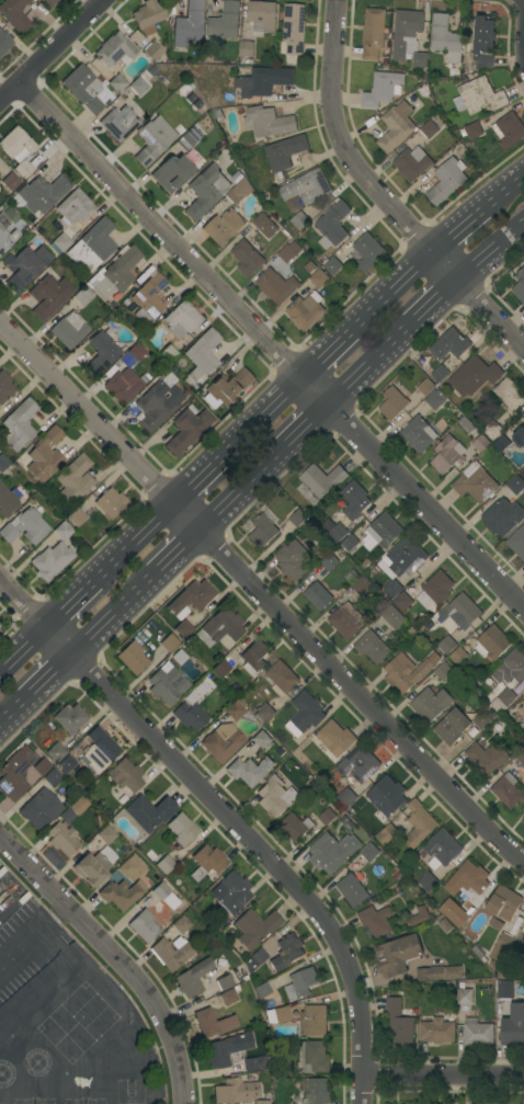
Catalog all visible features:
building: (48, 3)
road: (522, 10)
building: (14, 14)
building: (148, 16)
building: (262, 18)
building: (225, 21)
building: (187, 24)
building: (294, 29)
building: (373, 33)
building: (407, 33)
building: (446, 38)
building: (483, 41)
building: (4, 43)
building: (114, 49)
building: (247, 49)
road: (52, 52)
building: (151, 52)
building: (420, 59)
building: (101, 70)
building: (266, 80)
building: (117, 83)
building: (137, 86)
building: (185, 88)
building: (84, 89)
building: (383, 89)
building: (479, 96)
building: (219, 116)
building: (267, 122)
building: (118, 123)
building: (196, 125)
building: (396, 126)
building: (430, 129)
building: (509, 129)
building: (181, 130)
building: (474, 130)
building: (189, 139)
building: (152, 140)
building: (16, 145)
building: (285, 152)
building: (412, 163)
building: (23, 169)
building: (171, 173)
building: (237, 178)
building: (446, 181)
building: (10, 182)
building: (307, 186)
building: (205, 191)
building: (239, 191)
building: (42, 193)
road: (379, 194)
road: (503, 195)
building: (73, 208)
building: (299, 220)
building: (265, 225)
building: (333, 225)
building: (224, 227)
road: (458, 232)
building: (5, 235)
building: (61, 242)
building: (92, 246)
road: (488, 246)
building: (368, 251)
building: (289, 252)
building: (247, 258)
building: (24, 266)
building: (332, 266)
building: (116, 274)
building: (319, 278)
building: (520, 285)
building: (276, 286)
road: (392, 294)
building: (49, 296)
building: (81, 296)
building: (148, 298)
road: (428, 299)
building: (126, 303)
building: (113, 306)
building: (305, 311)
building: (181, 319)
building: (69, 329)
building: (453, 343)
road: (271, 346)
building: (101, 352)
building: (136, 352)
building: (168, 353)
building: (202, 354)
road: (328, 356)
road: (364, 362)
building: (438, 374)
building: (474, 376)
building: (122, 386)
building: (4, 387)
building: (230, 387)
building: (425, 387)
building: (510, 395)
building: (435, 399)
building: (158, 402)
building: (392, 403)
road: (260, 419)
building: (19, 424)
road: (306, 424)
building: (186, 429)
building: (492, 429)
building: (419, 434)
building: (474, 434)
building: (519, 437)
building: (502, 443)
building: (447, 454)
building: (45, 455)
building: (3, 463)
road: (197, 476)
building: (73, 480)
building: (319, 482)
building: (476, 483)
building: (515, 483)
road: (249, 487)
building: (354, 500)
building: (8, 501)
building: (110, 502)
building: (73, 516)
building: (502, 516)
building: (297, 517)
building: (25, 526)
building: (264, 528)
building: (385, 528)
building: (62, 531)
building: (337, 531)
road: (136, 539)
building: (517, 542)
building: (350, 543)
road: (183, 550)
building: (405, 557)
building: (292, 559)
building: (50, 561)
building: (330, 562)
building: (363, 585)
building: (437, 588)
building: (391, 589)
road: (269, 591)
building: (318, 595)
building: (190, 599)
building: (402, 602)
road: (71, 604)
building: (460, 612)
road: (117, 615)
building: (392, 616)
building: (346, 621)
building: (0, 626)
building: (219, 627)
building: (183, 628)
building: (168, 642)
building: (491, 644)
building: (447, 645)
building: (372, 647)
road: (25, 650)
building: (458, 656)
building: (253, 657)
building: (132, 658)
building: (511, 668)
building: (220, 669)
building: (443, 671)
building: (406, 672)
road: (55, 674)
building: (282, 678)
building: (167, 685)
building: (523, 693)
building: (503, 699)
building: (430, 704)
road: (16, 710)
building: (237, 712)
building: (265, 713)
building: (305, 714)
building: (190, 716)
building: (69, 718)
building: (482, 721)
building: (452, 727)
building: (523, 735)
building: (261, 739)
building: (333, 740)
building: (223, 742)
building: (99, 750)
building: (56, 752)
building: (521, 755)
building: (485, 759)
building: (67, 763)
building: (358, 764)
building: (42, 766)
building: (243, 772)
building: (14, 774)
building: (125, 776)
building: (52, 777)
building: (508, 790)
building: (389, 795)
building: (275, 796)
building: (346, 797)
building: (78, 805)
building: (39, 809)
building: (523, 809)
building: (149, 812)
road: (227, 816)
building: (328, 817)
building: (523, 818)
building: (419, 823)
building: (295, 827)
building: (181, 829)
building: (106, 834)
building: (387, 834)
building: (62, 839)
building: (442, 847)
building: (332, 852)
building: (369, 852)
building: (206, 862)
building: (164, 865)
building: (94, 866)
building: (130, 868)
building: (472, 878)
building: (428, 881)
building: (352, 890)
building: (160, 891)
building: (233, 892)
building: (121, 894)
building: (506, 909)
building: (453, 913)
building: (419, 917)
building: (376, 921)
building: (144, 925)
building: (181, 925)
building: (446, 925)
building: (255, 927)
building: (523, 938)
building: (501, 947)
building: (171, 952)
building: (287, 952)
building: (398, 955)
road: (117, 957)
building: (254, 959)
building: (454, 972)
building: (431, 974)
building: (192, 978)
building: (303, 981)
building: (224, 982)
building: (505, 989)
building: (261, 990)
building: (465, 995)
building: (228, 998)
building: (277, 1015)
building: (314, 1021)
building: (213, 1022)
building: (398, 1022)
building: (513, 1025)
building: (438, 1028)
building: (477, 1032)
building: (224, 1049)
building: (311, 1057)
building: (257, 1063)
road: (443, 1077)
building: (315, 1090)
building: (235, 1091)
building: (261, 1102)

